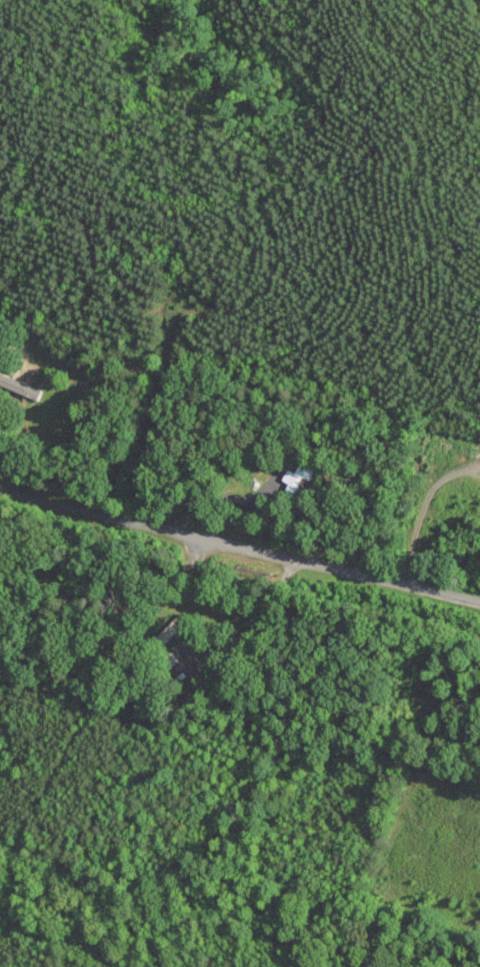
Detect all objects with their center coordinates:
road: (420, 510)
road: (238, 552)

